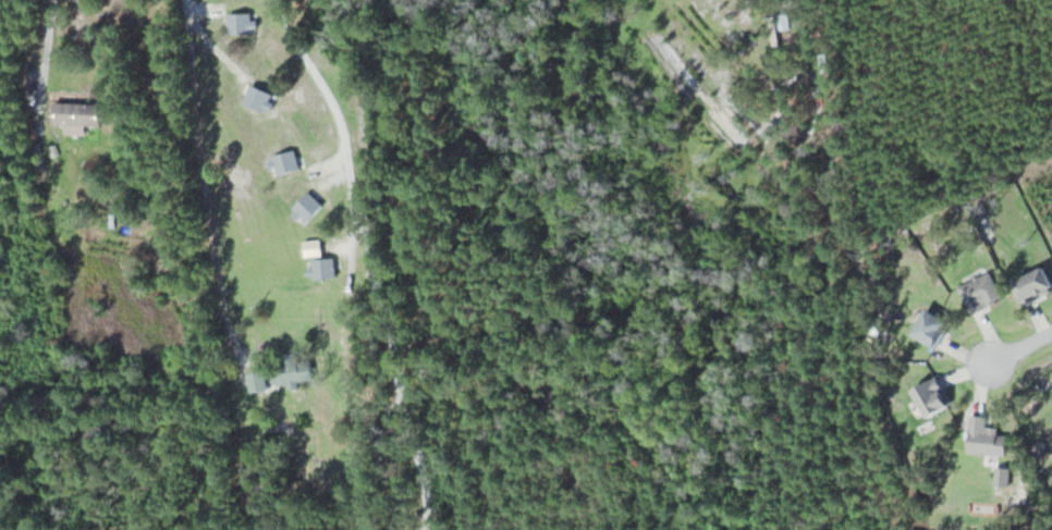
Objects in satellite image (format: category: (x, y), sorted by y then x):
building: (242, 22)
road: (47, 45)
building: (259, 98)
building: (77, 113)
building: (286, 161)
building: (308, 206)
road: (352, 257)
building: (325, 267)
road: (1022, 345)
building: (292, 368)
building: (259, 381)

